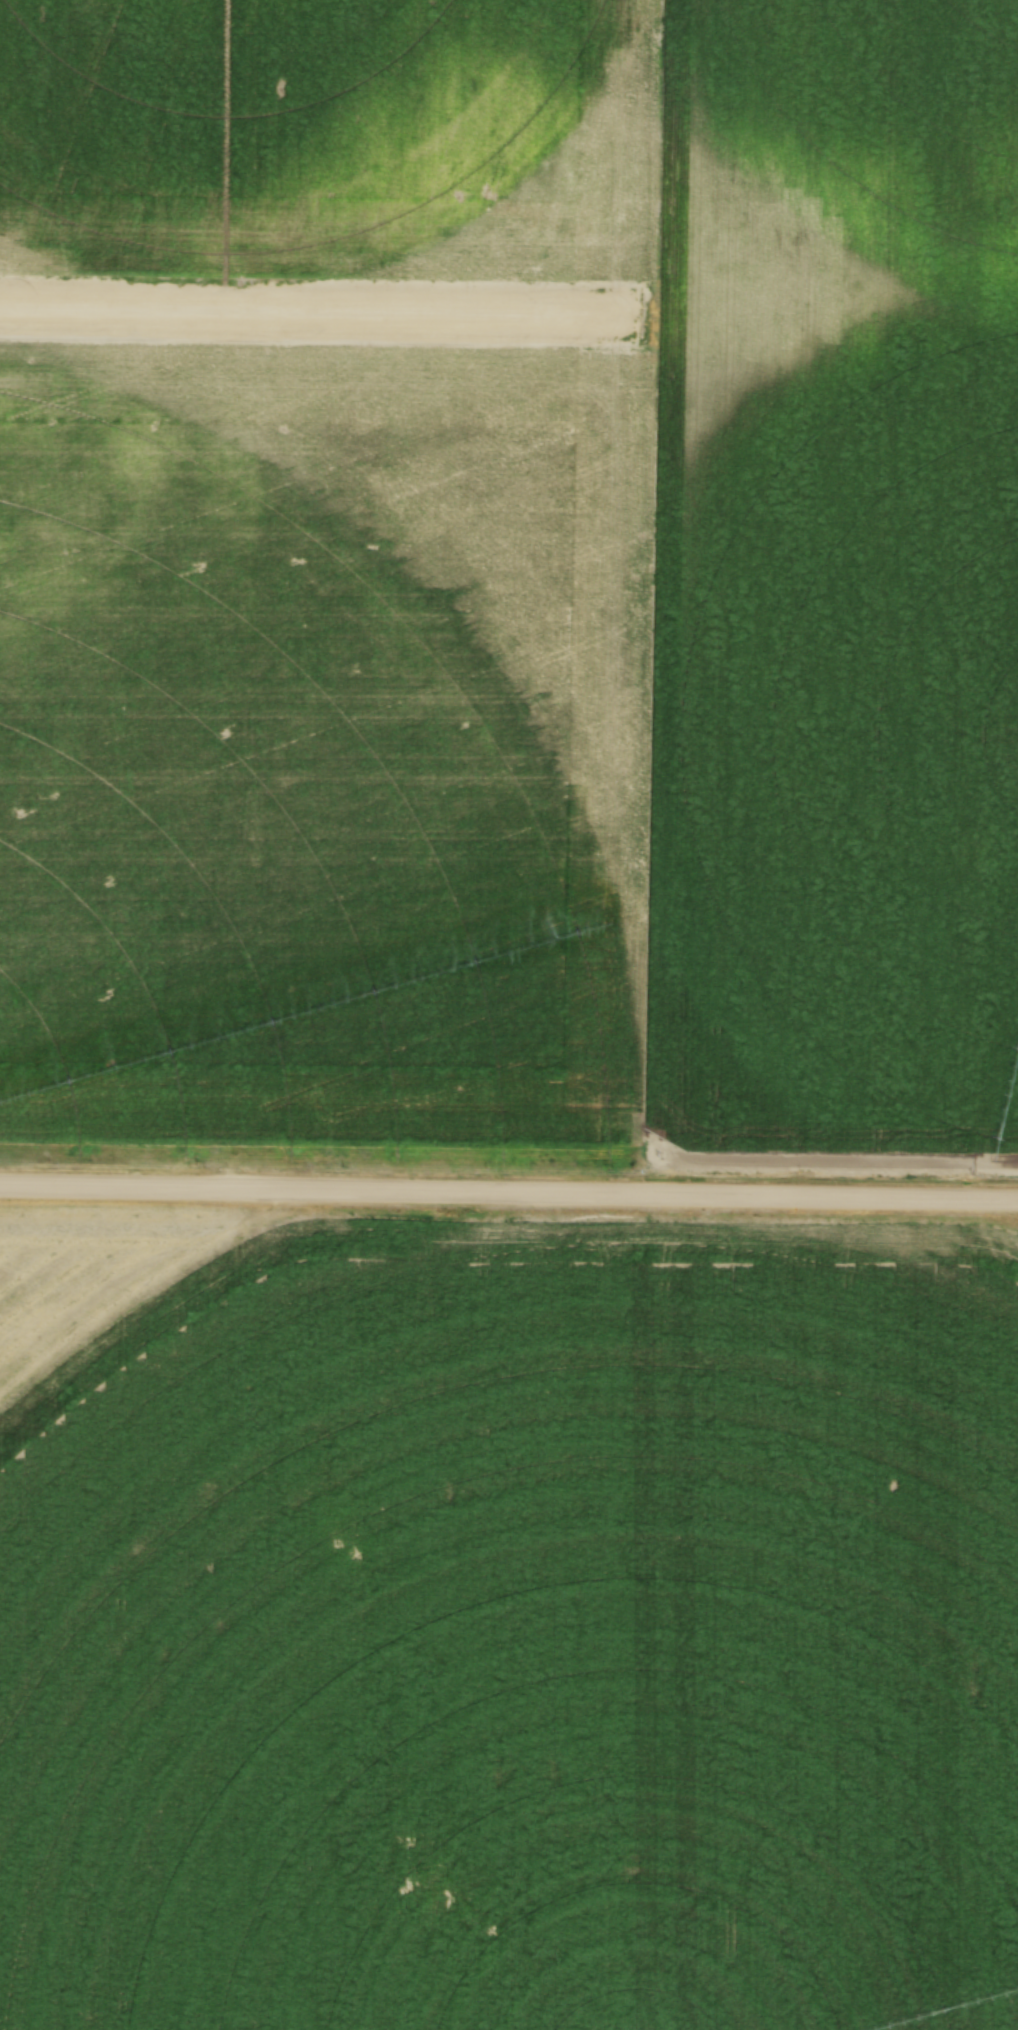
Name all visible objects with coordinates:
airport runway: (634, 317)
crop: (517, 582)
road: (508, 1196)
crop: (508, 1619)

